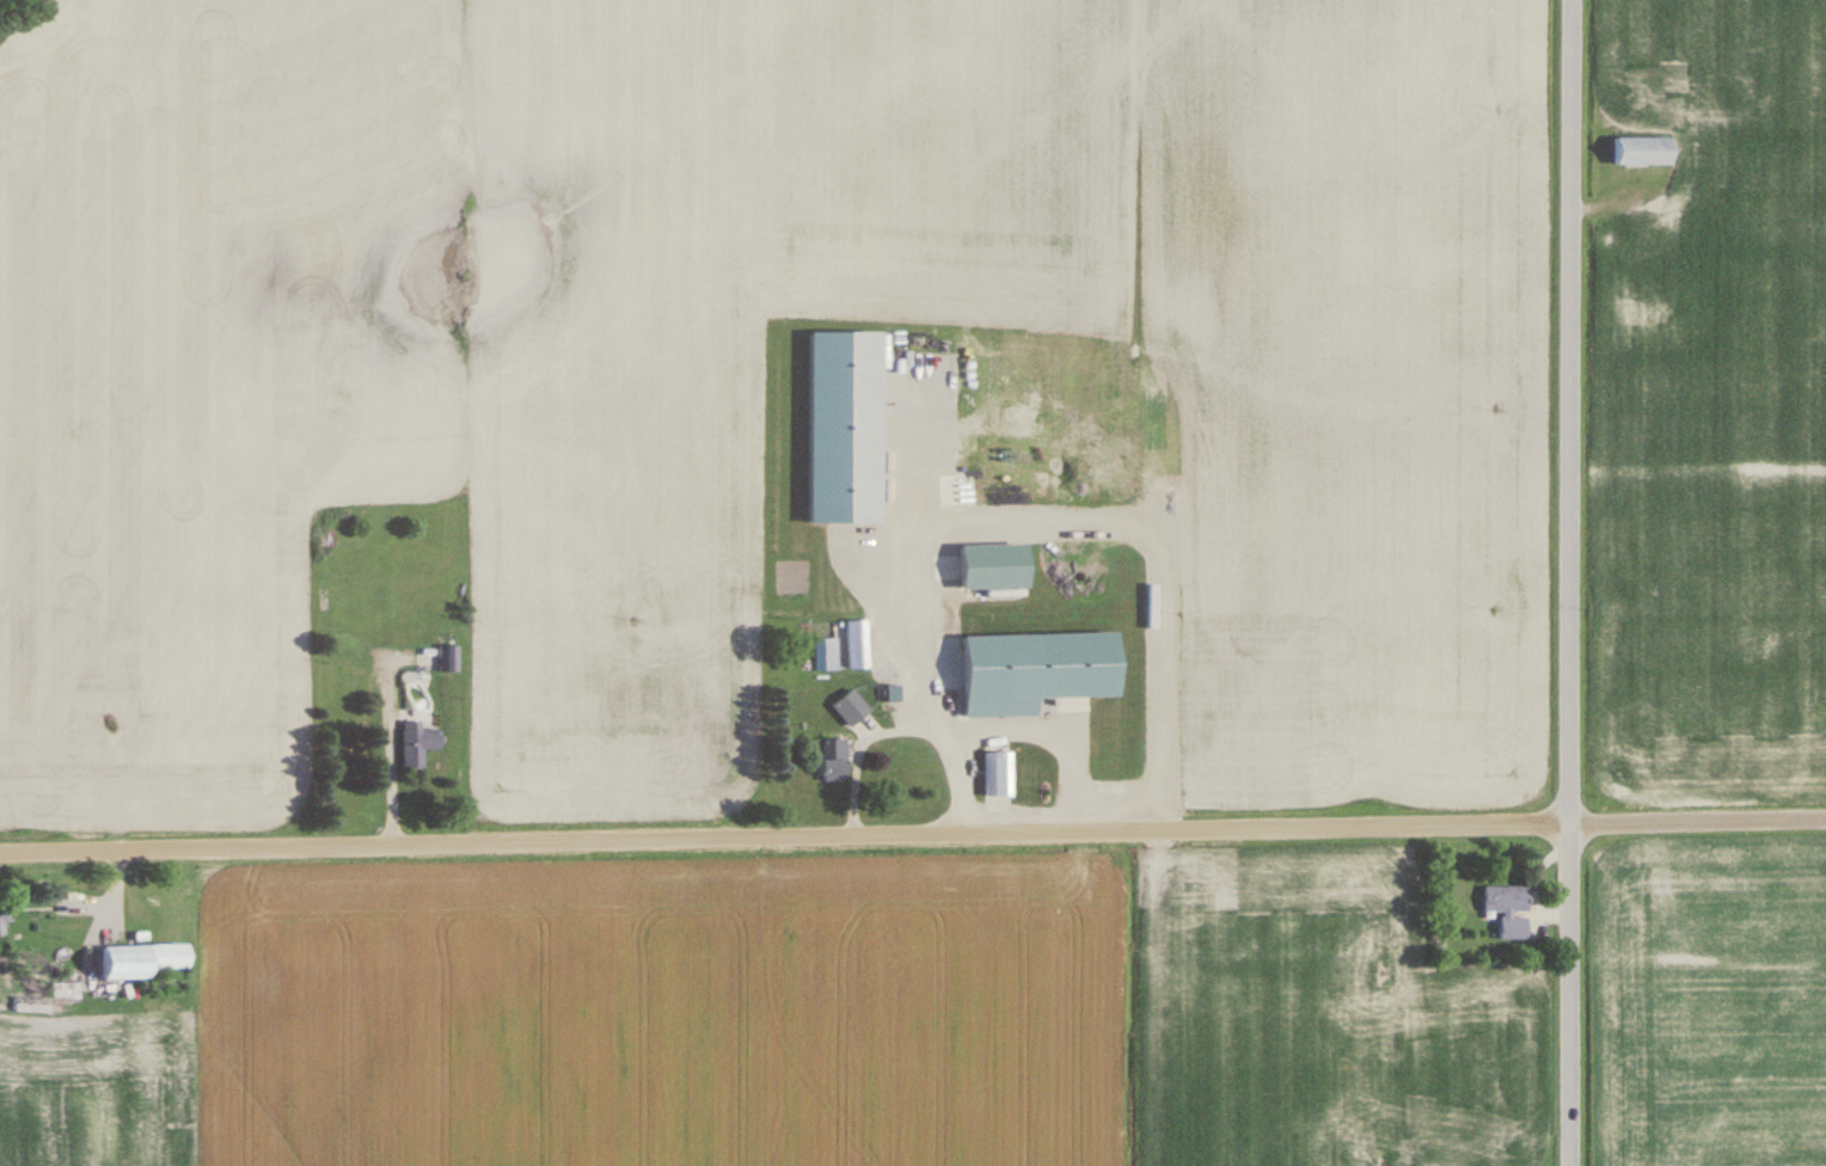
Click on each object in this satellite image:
building: (1643, 149)
road: (1563, 582)
building: (858, 645)
building: (449, 651)
building: (827, 655)
building: (1037, 670)
building: (851, 708)
road: (886, 720)
road: (1037, 728)
building: (418, 743)
road: (369, 753)
building: (834, 761)
building: (998, 774)
road: (913, 834)
building: (1509, 909)
building: (1, 918)
building: (142, 961)

